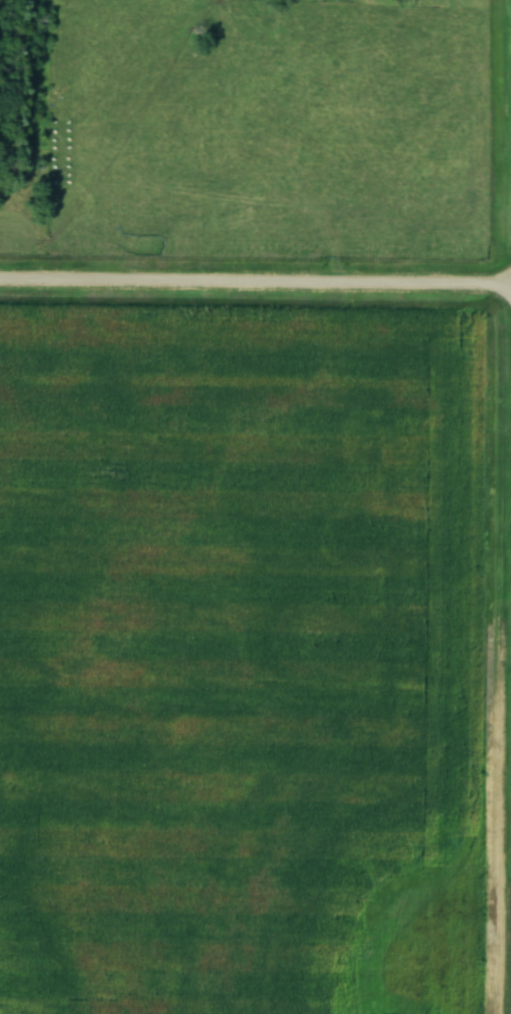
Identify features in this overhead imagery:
road: (255, 278)

